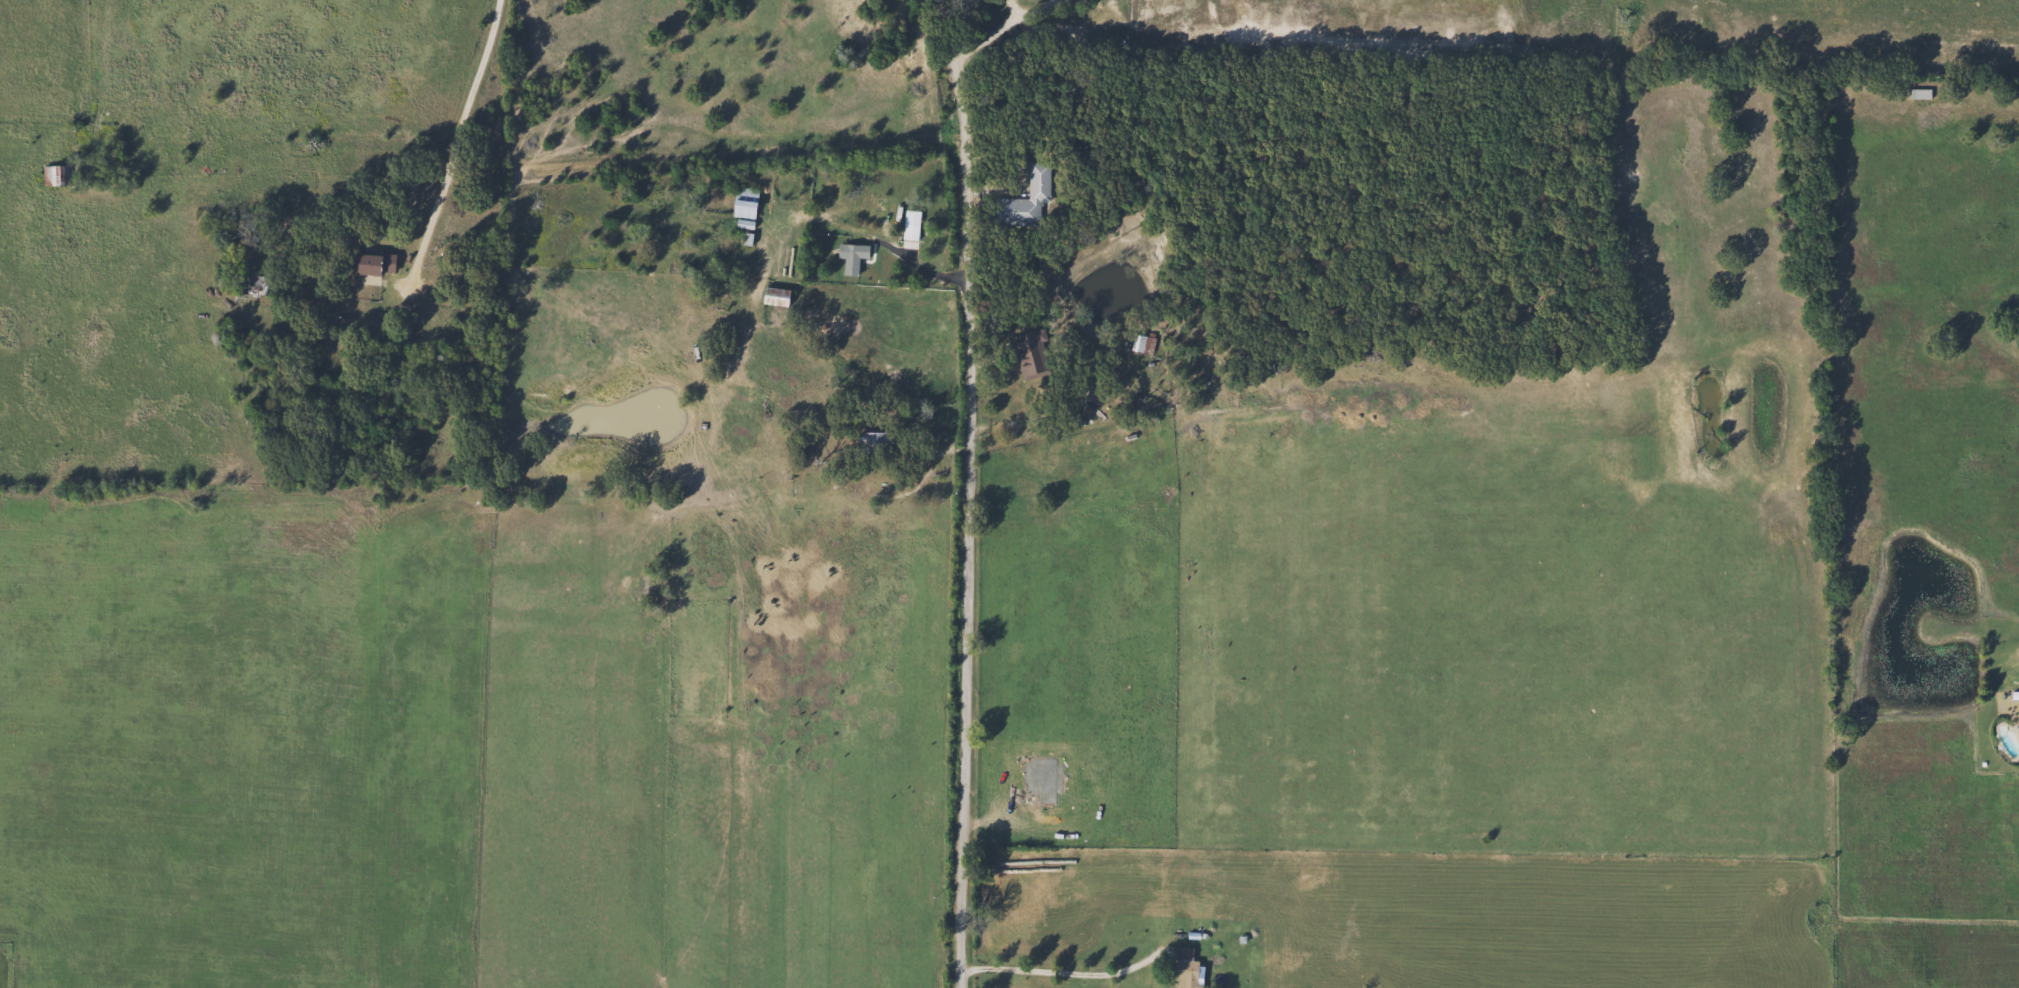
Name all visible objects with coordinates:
building: (1918, 93)
road: (458, 124)
building: (55, 174)
building: (1022, 200)
building: (743, 202)
building: (910, 218)
building: (850, 256)
road: (911, 260)
building: (371, 263)
building: (250, 286)
building: (773, 296)
building: (1139, 344)
building: (872, 443)
road: (971, 493)
building: (2018, 722)
building: (1314, 870)
building: (1184, 970)
road: (1065, 972)

